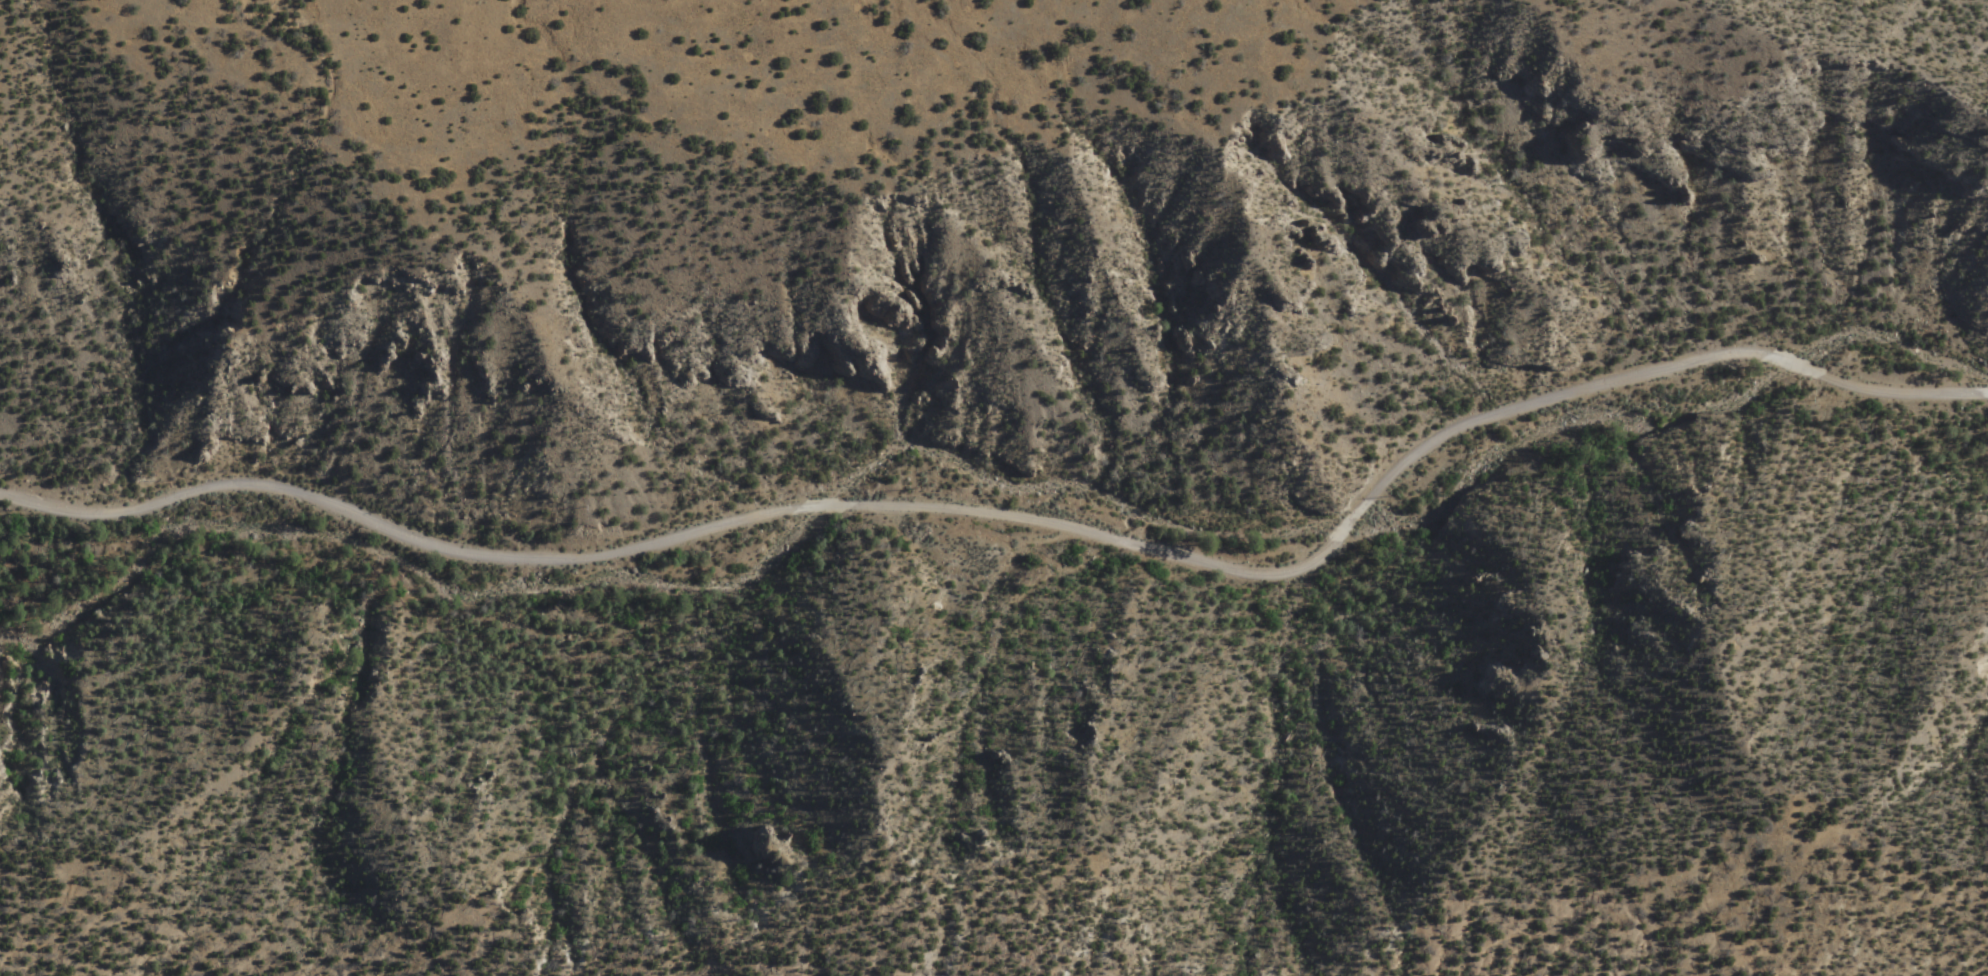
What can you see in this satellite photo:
road: (1523, 10)
road: (1020, 515)

